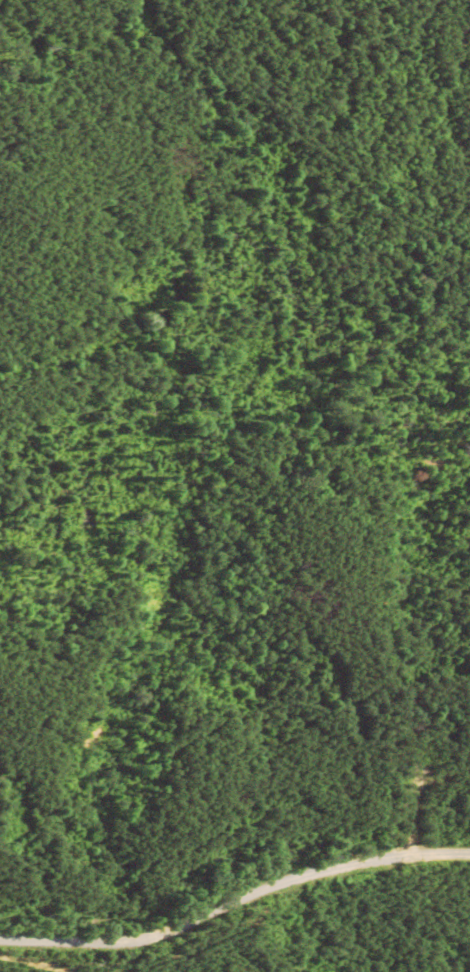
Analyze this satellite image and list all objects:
road: (237, 911)

